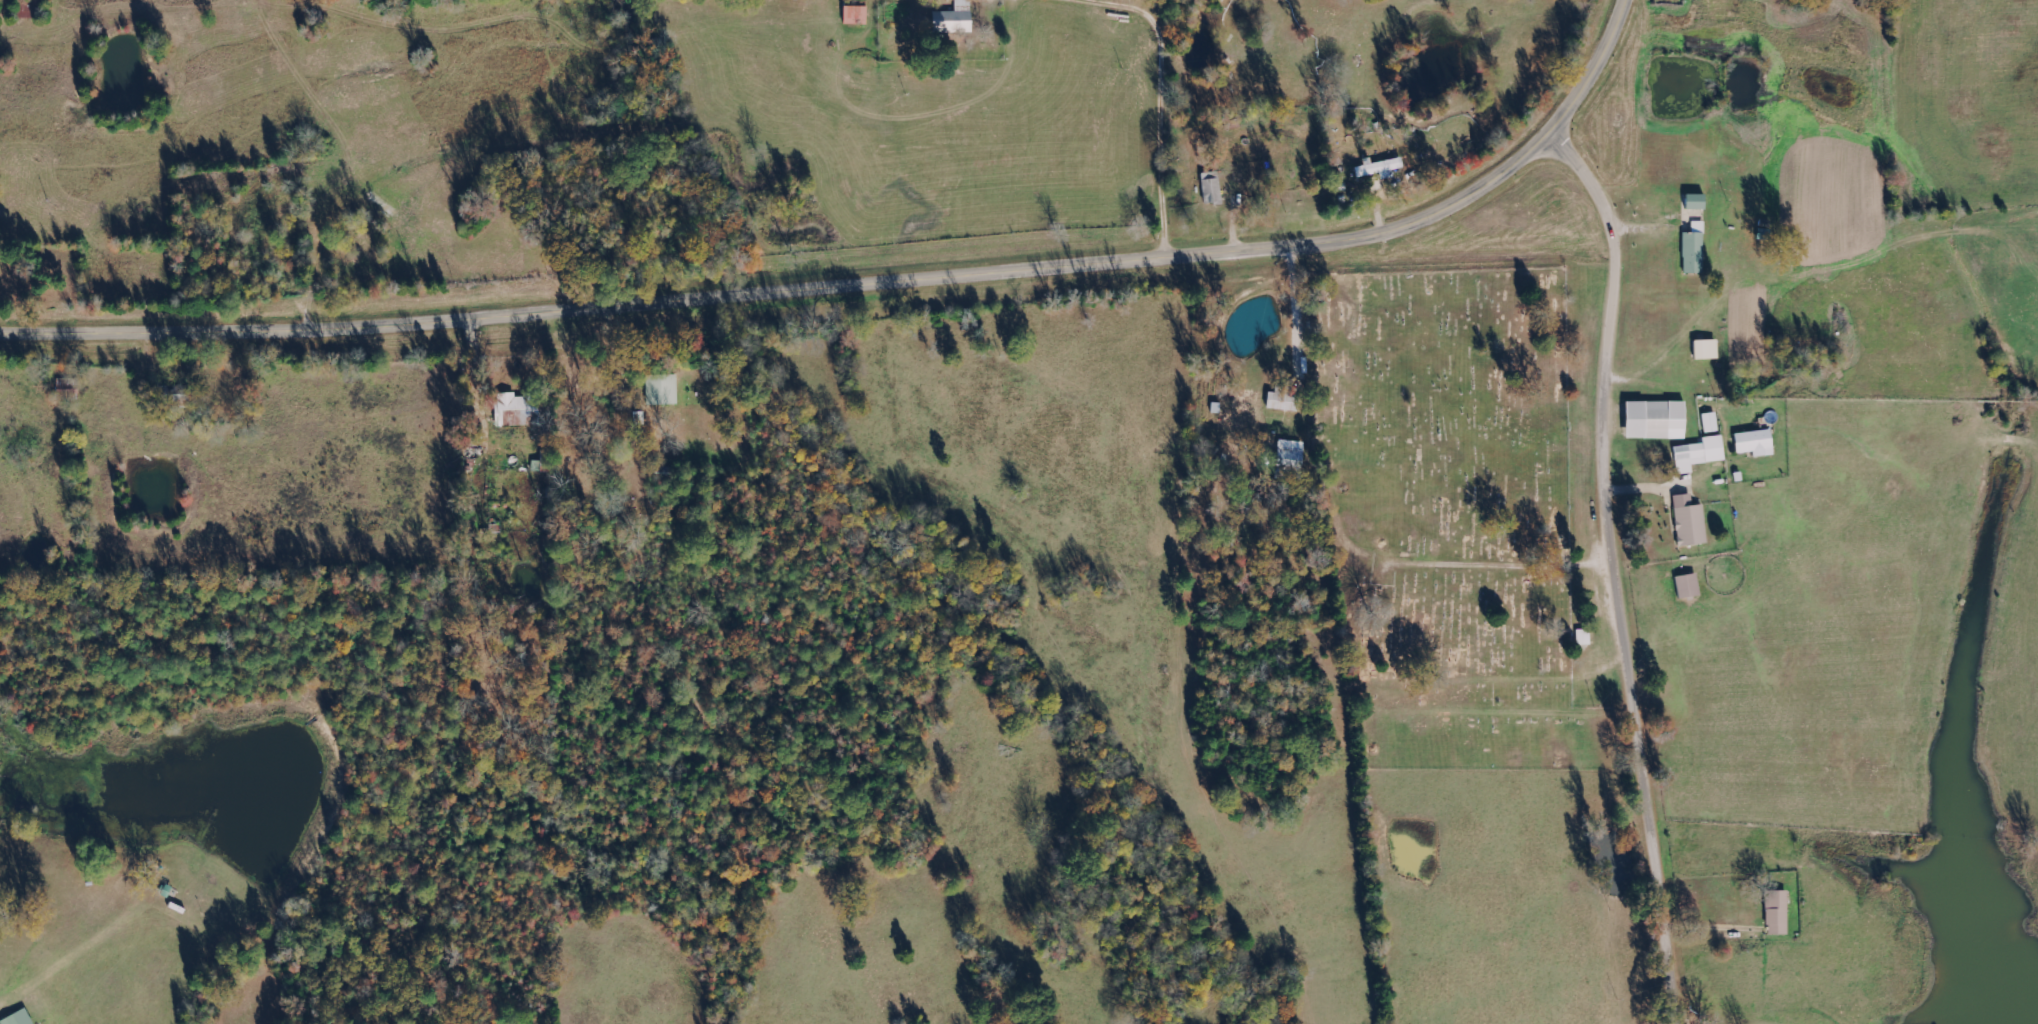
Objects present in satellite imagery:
building: (852, 16)
building: (951, 20)
road: (1170, 118)
building: (1376, 169)
building: (1209, 189)
building: (1692, 251)
road: (867, 283)
building: (1703, 351)
building: (1278, 400)
building: (513, 412)
building: (1652, 421)
building: (1752, 444)
building: (1696, 455)
building: (1287, 460)
park: (1446, 487)
building: (1686, 523)
road: (1622, 567)
building: (1685, 587)
building: (1775, 913)

